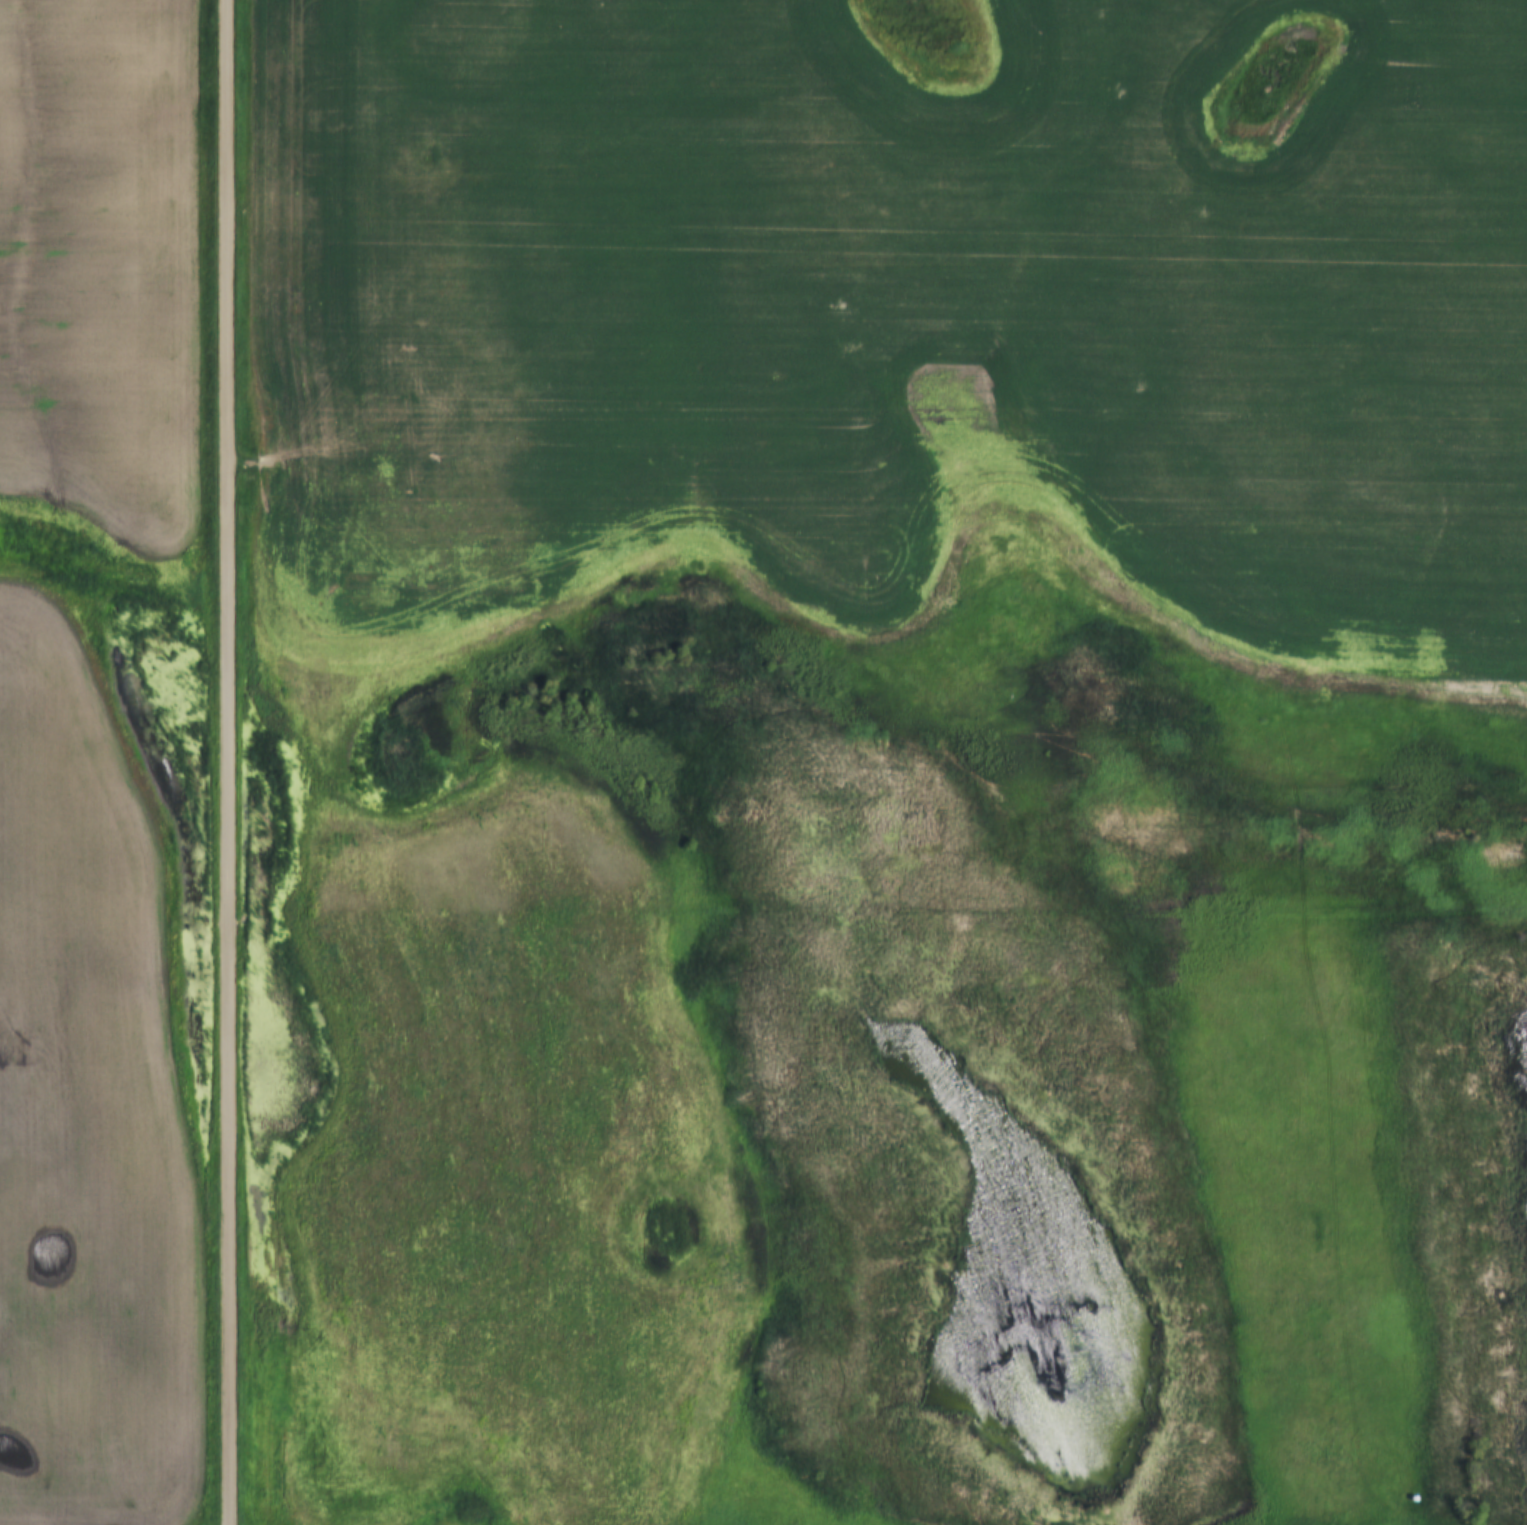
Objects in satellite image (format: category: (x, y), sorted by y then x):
road: (226, 762)

